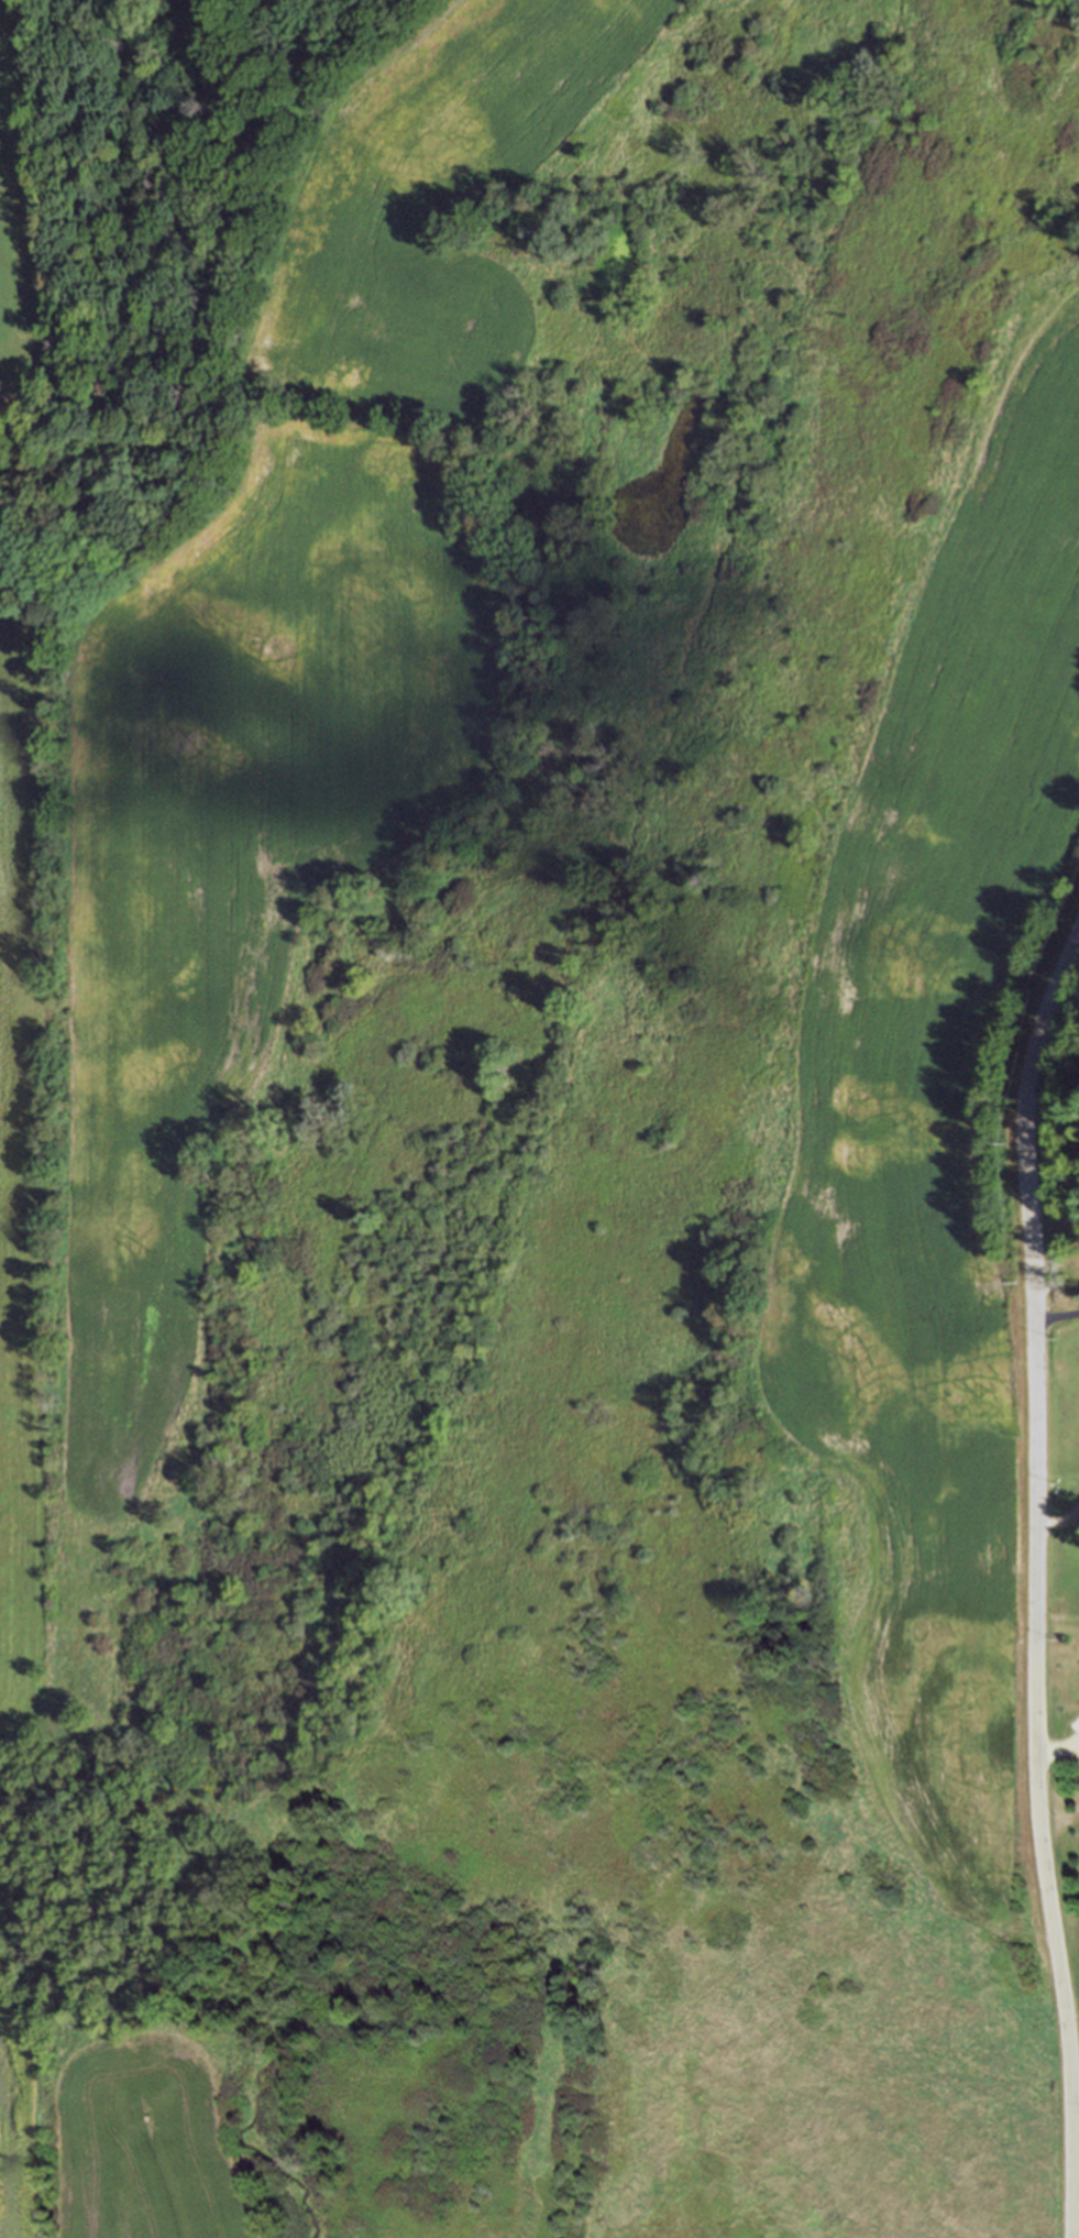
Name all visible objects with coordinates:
road: (1075, 1180)
road: (1056, 1316)
road: (1057, 1523)
road: (1035, 1579)
road: (1058, 1748)

